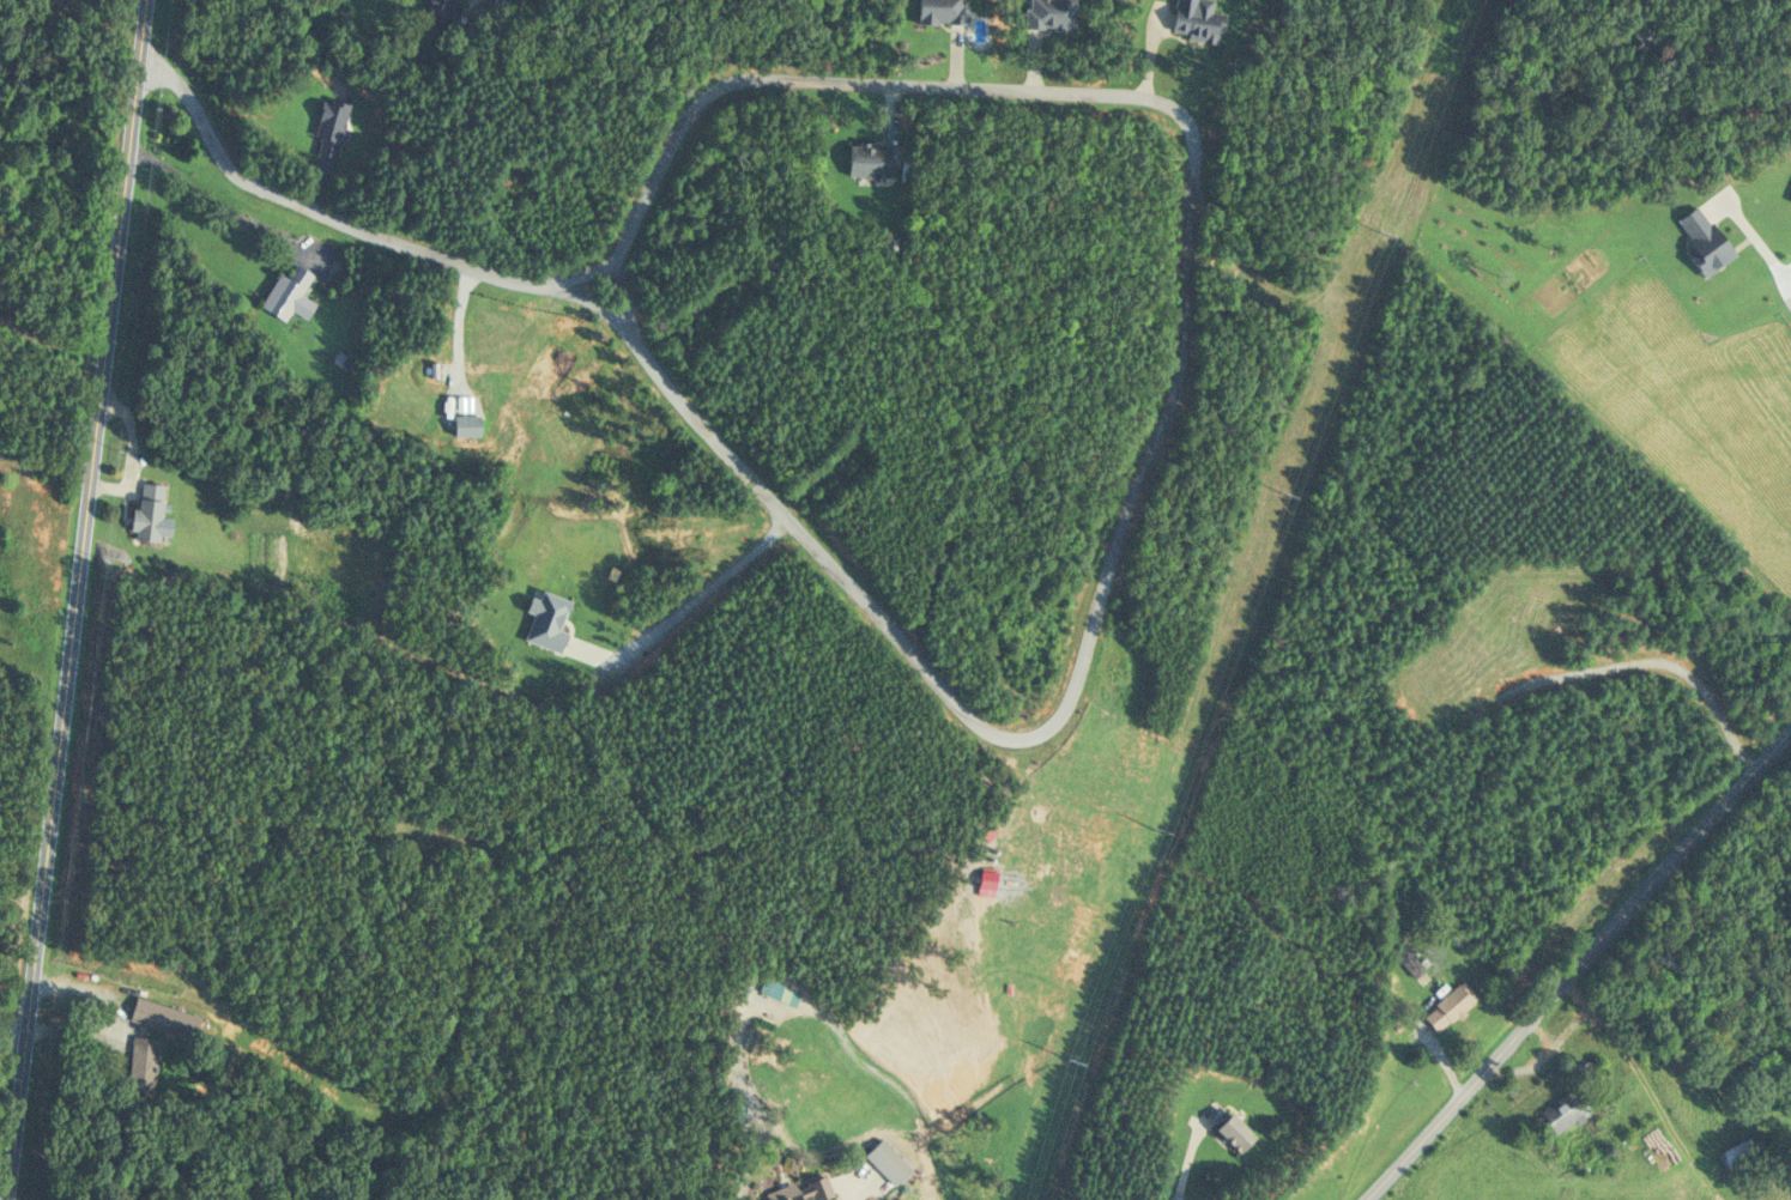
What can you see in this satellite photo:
building: (441, 10)
building: (939, 11)
building: (1048, 13)
building: (1194, 19)
building: (329, 127)
building: (871, 159)
building: (1790, 198)
road: (1778, 263)
building: (288, 292)
road: (624, 295)
building: (468, 424)
building: (149, 513)
road: (702, 594)
road: (78, 600)
road: (1090, 638)
building: (1411, 963)
road: (1574, 968)
building: (756, 986)
building: (1450, 1005)
building: (168, 1017)
road: (12, 1029)
building: (145, 1065)
building: (1592, 1067)
building: (1562, 1111)
building: (1233, 1132)
building: (881, 1154)
building: (1737, 1156)
building: (807, 1192)
road: (851, 1195)

